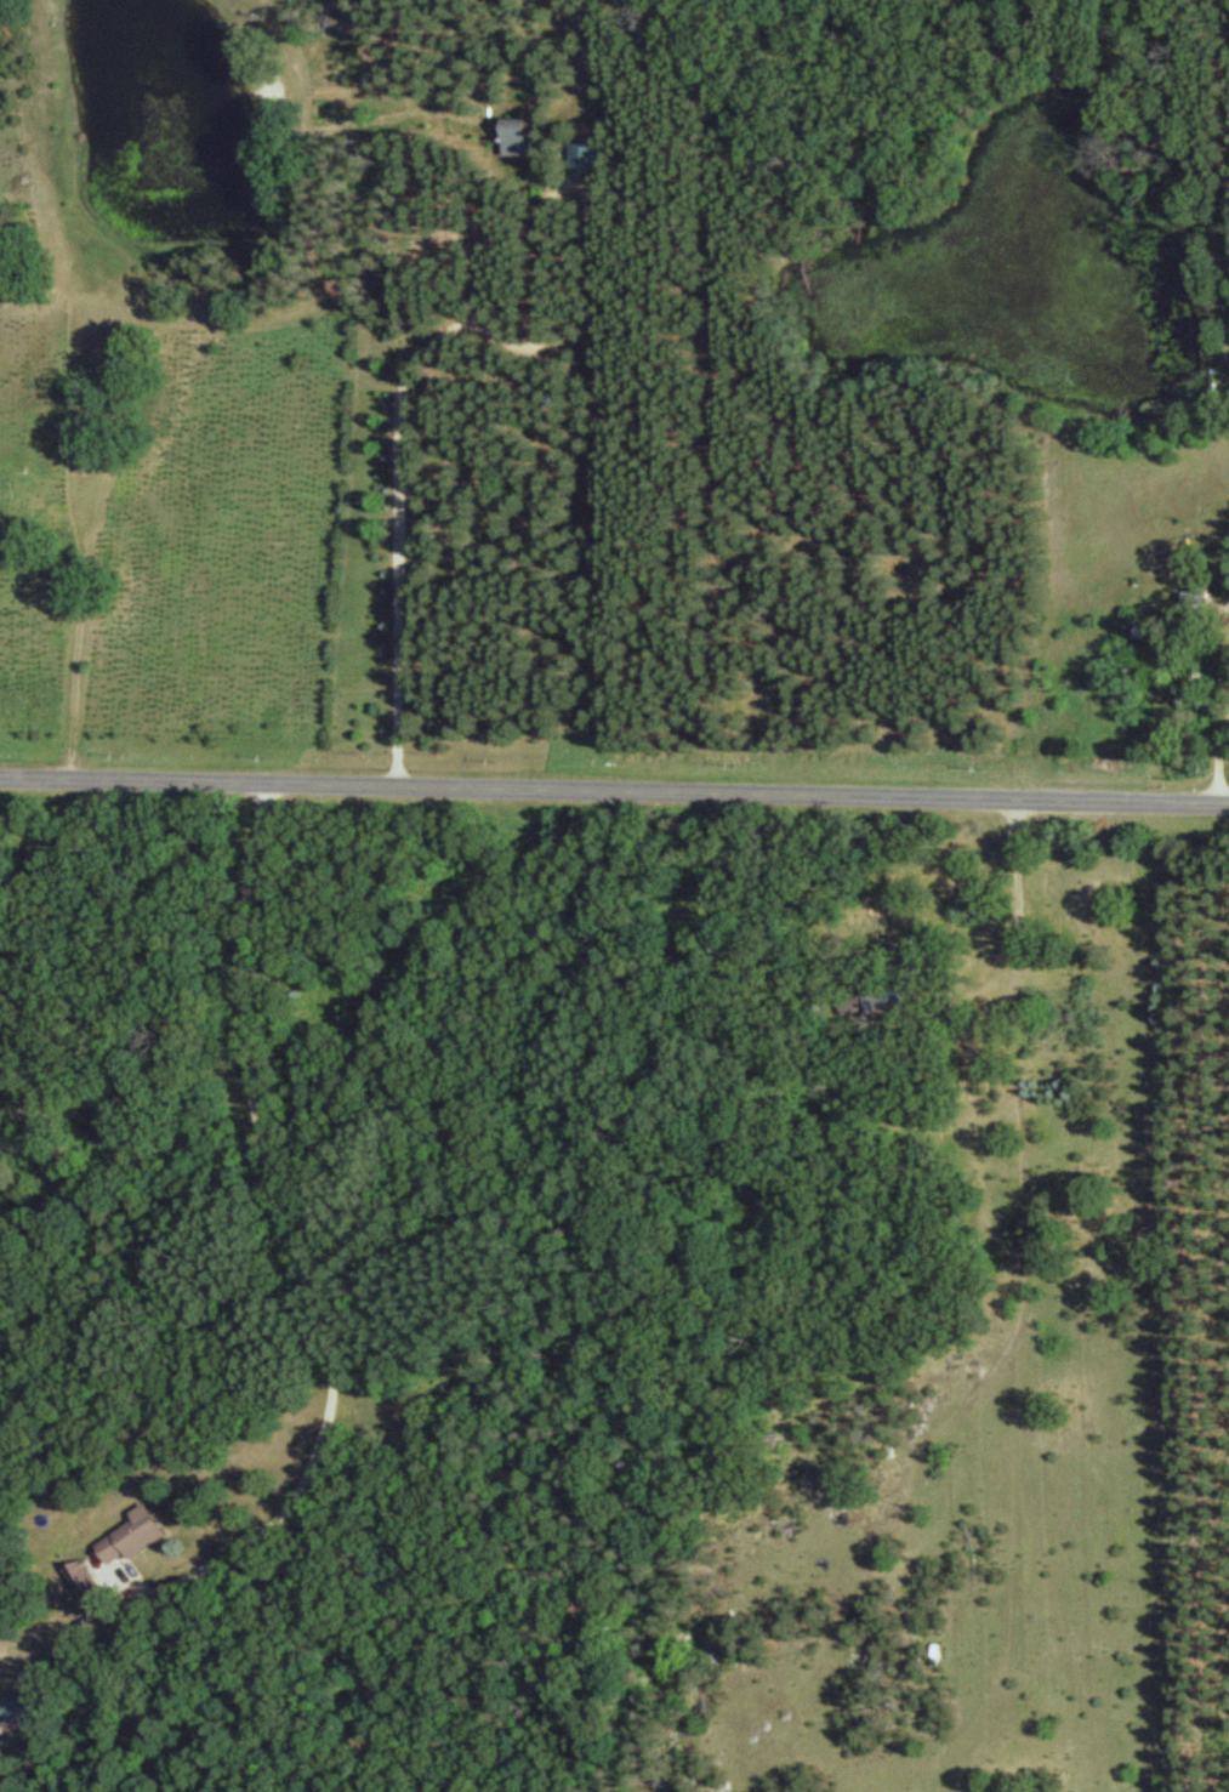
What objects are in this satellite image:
building: (524, 136)
building: (586, 154)
building: (30, 493)
building: (1205, 591)
building: (1156, 631)
road: (614, 797)
building: (893, 997)
building: (142, 1532)
building: (19, 1709)

